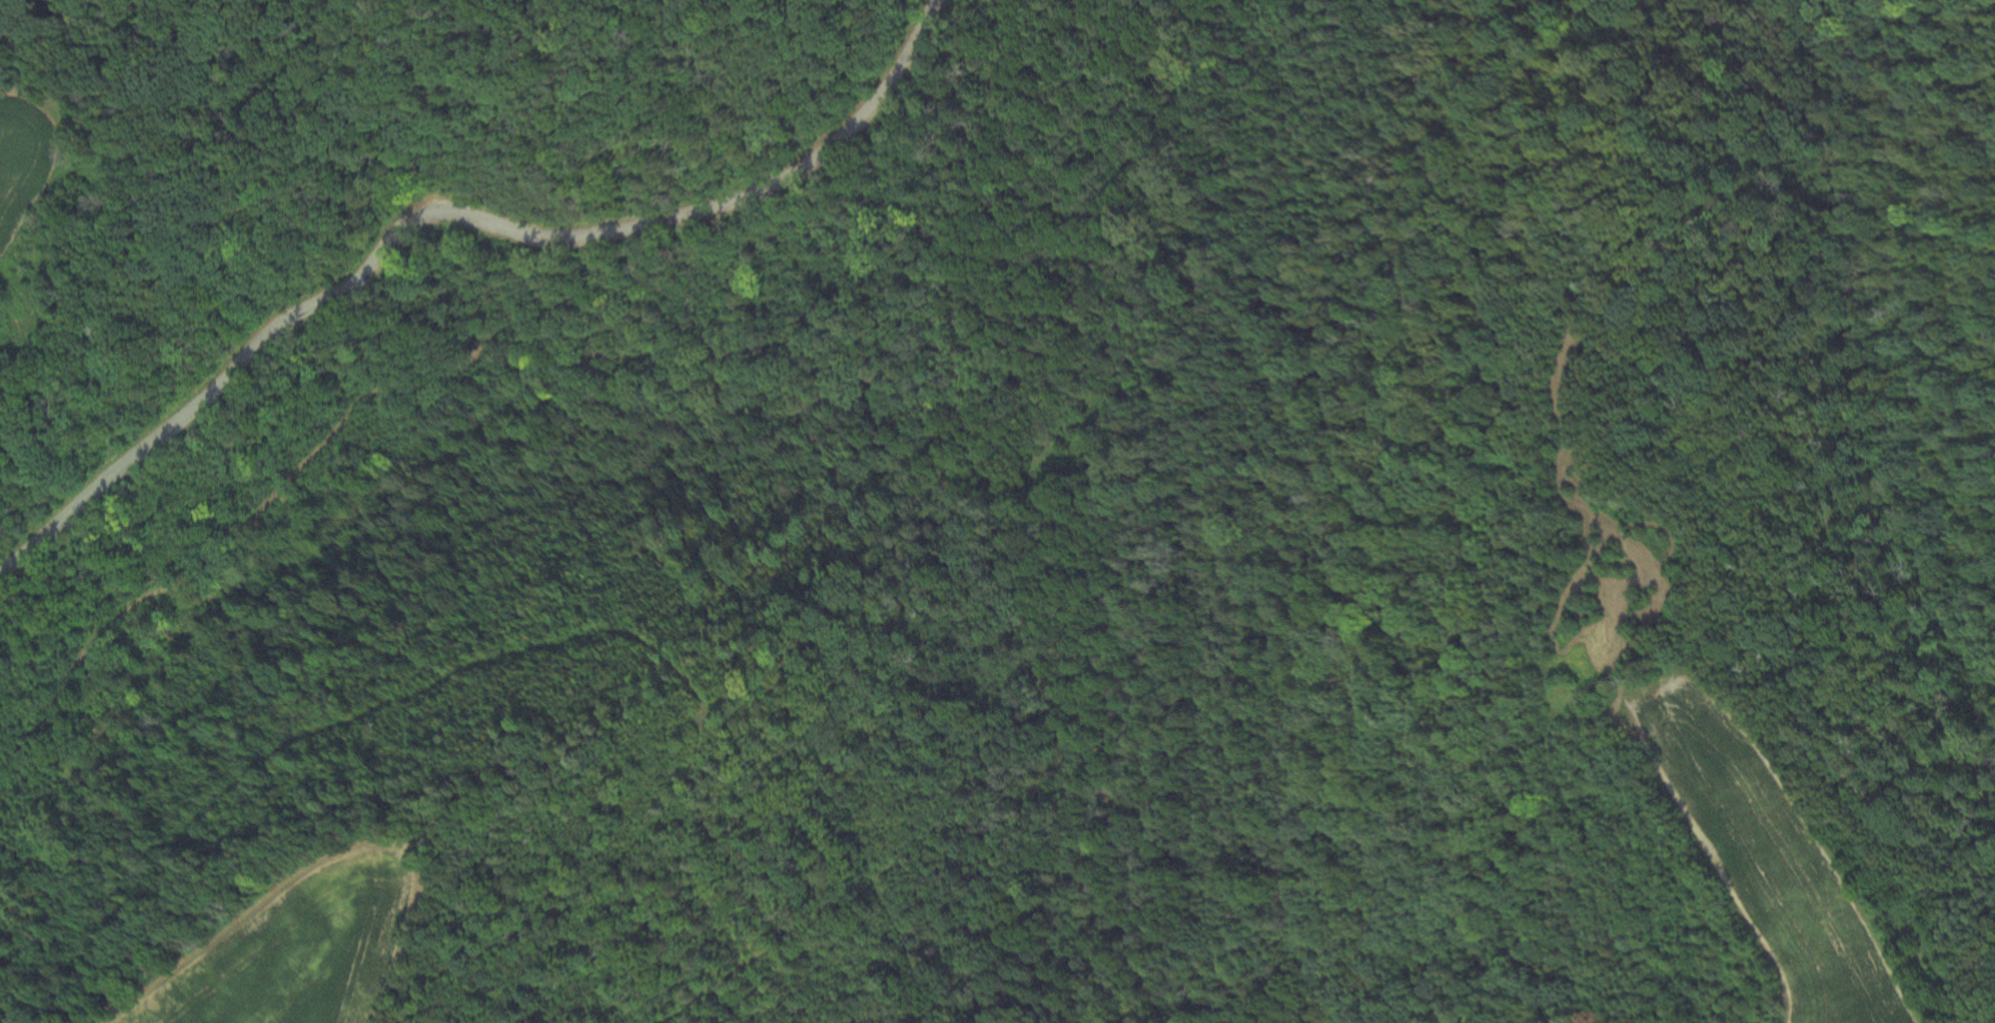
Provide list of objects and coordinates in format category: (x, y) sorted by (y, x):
road: (450, 214)

